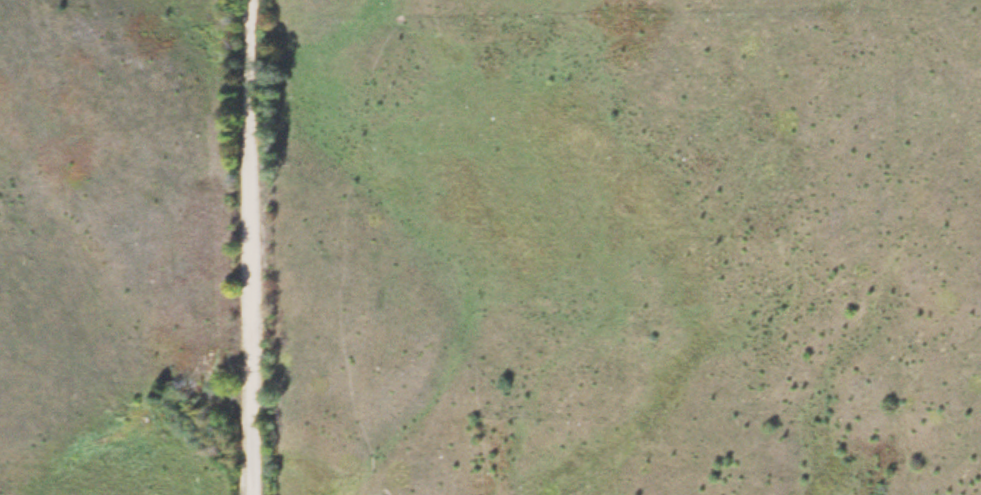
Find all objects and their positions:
road: (250, 247)

